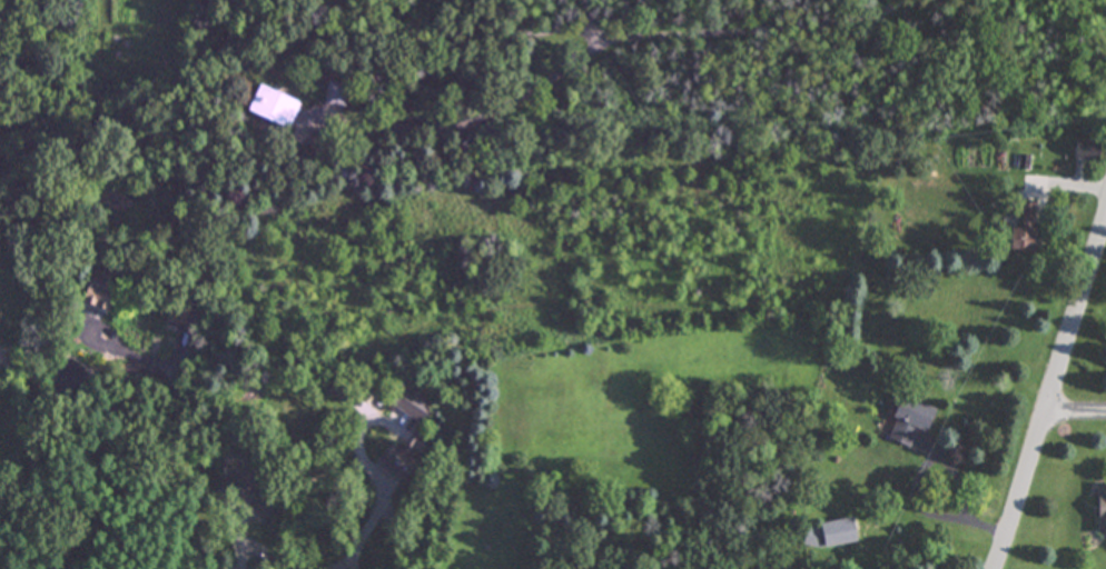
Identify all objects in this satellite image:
road: (535, 33)
road: (599, 38)
building: (268, 107)
building: (1082, 152)
building: (1024, 229)
building: (95, 293)
road: (1051, 393)
building: (411, 402)
building: (908, 420)
road: (1075, 421)
road: (170, 452)
building: (396, 460)
building: (244, 498)
building: (1100, 511)
building: (811, 537)
road: (378, 540)
road: (246, 561)

